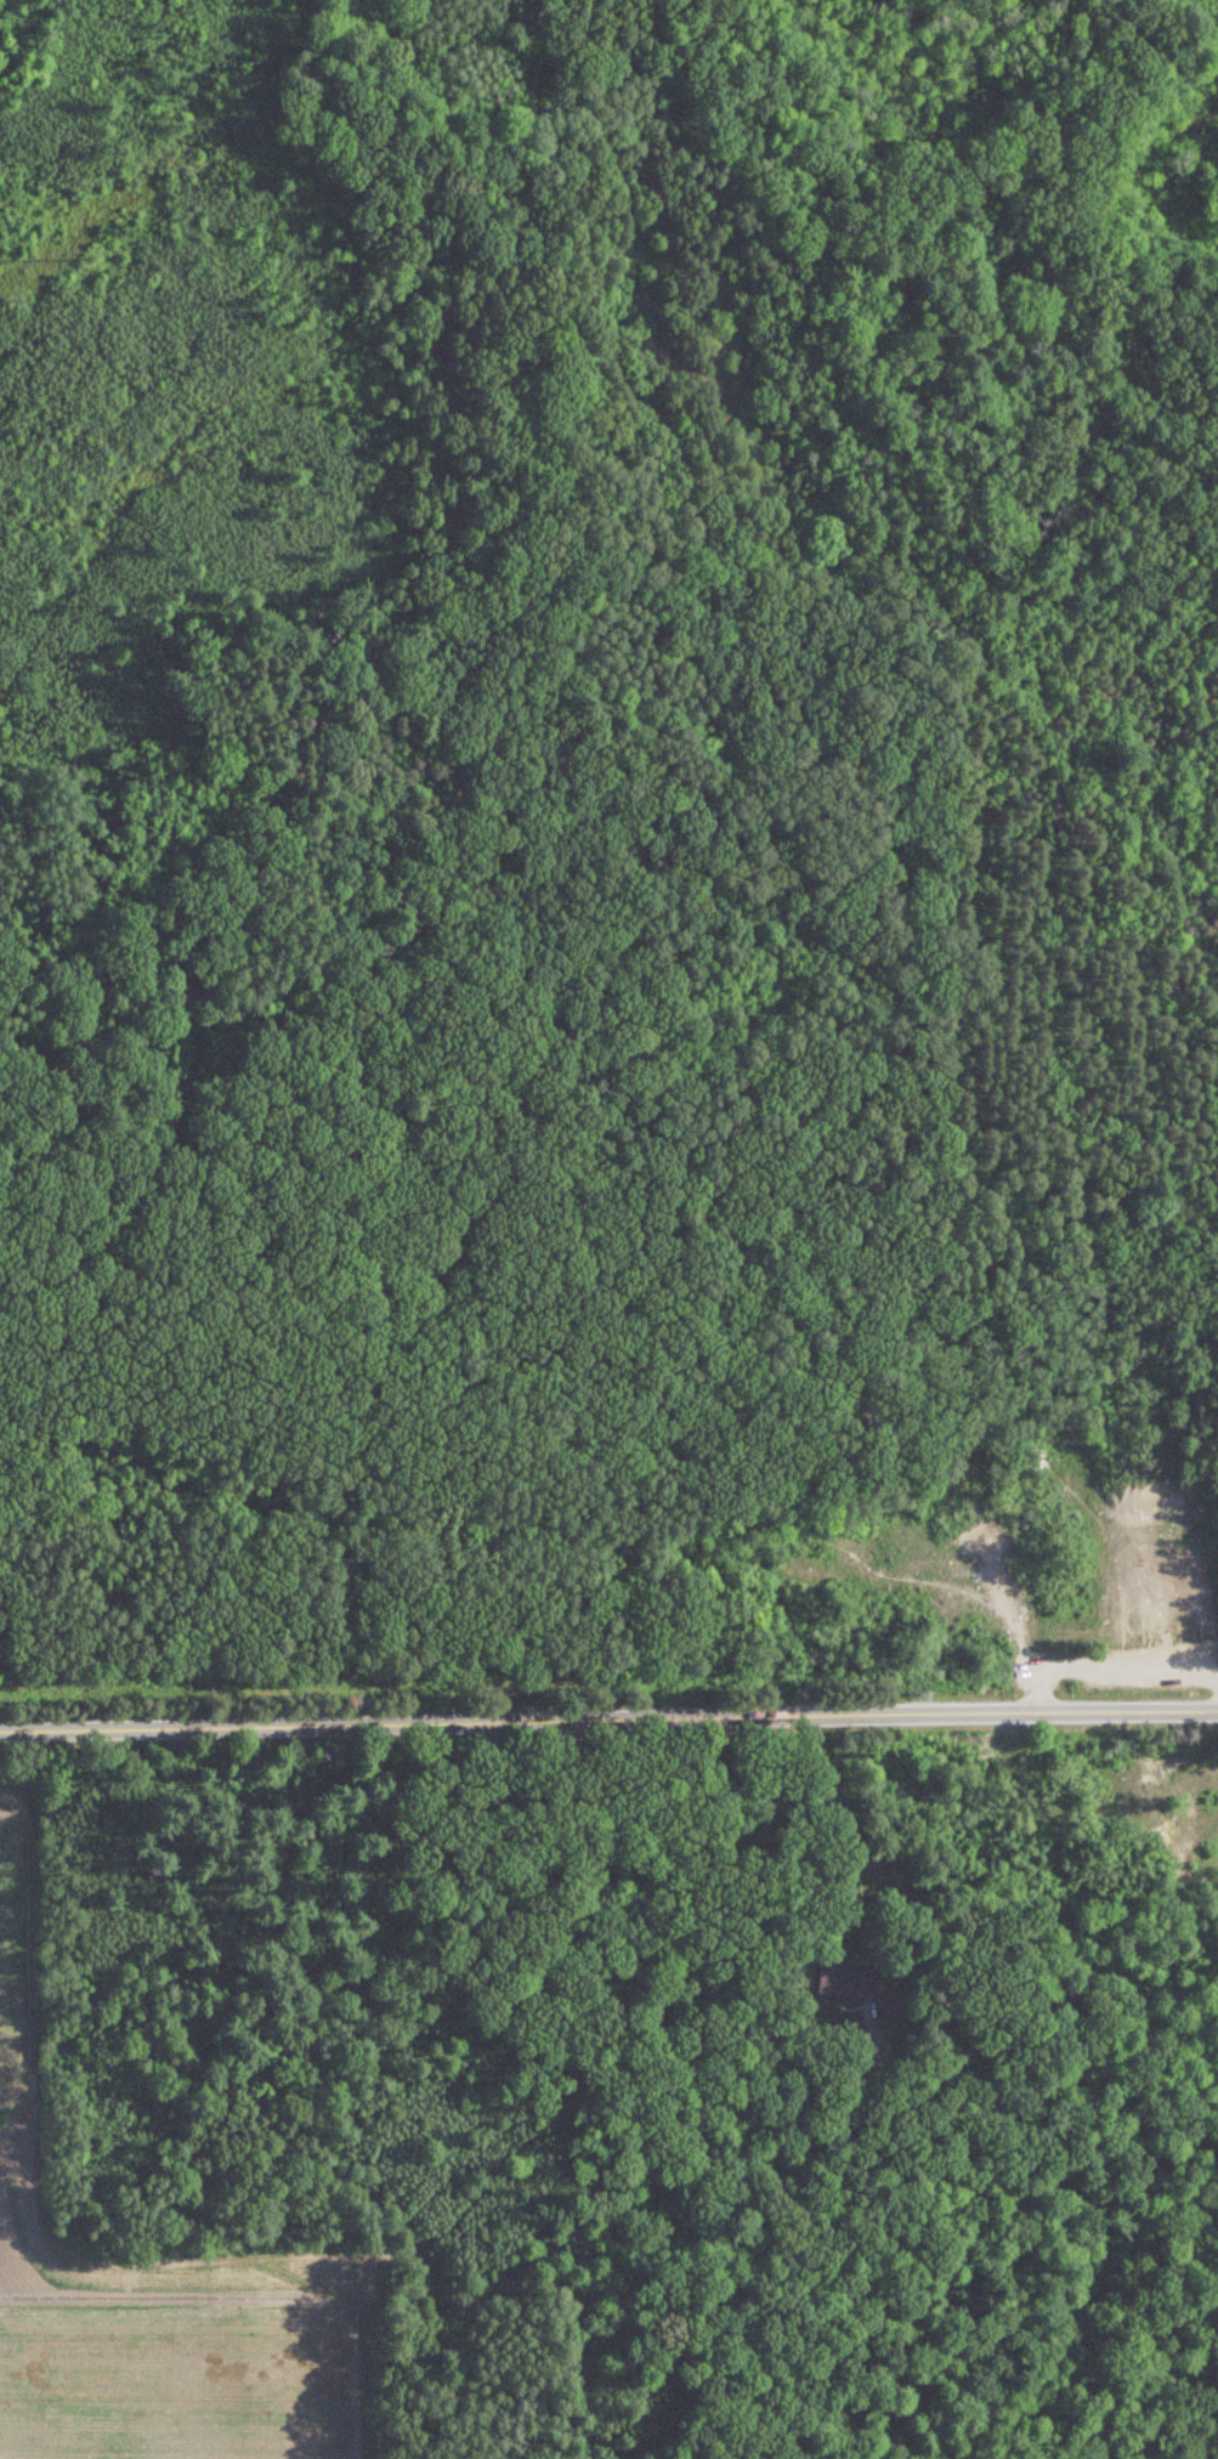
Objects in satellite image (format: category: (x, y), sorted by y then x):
road: (608, 1718)
building: (848, 1982)
road: (679, 1984)

